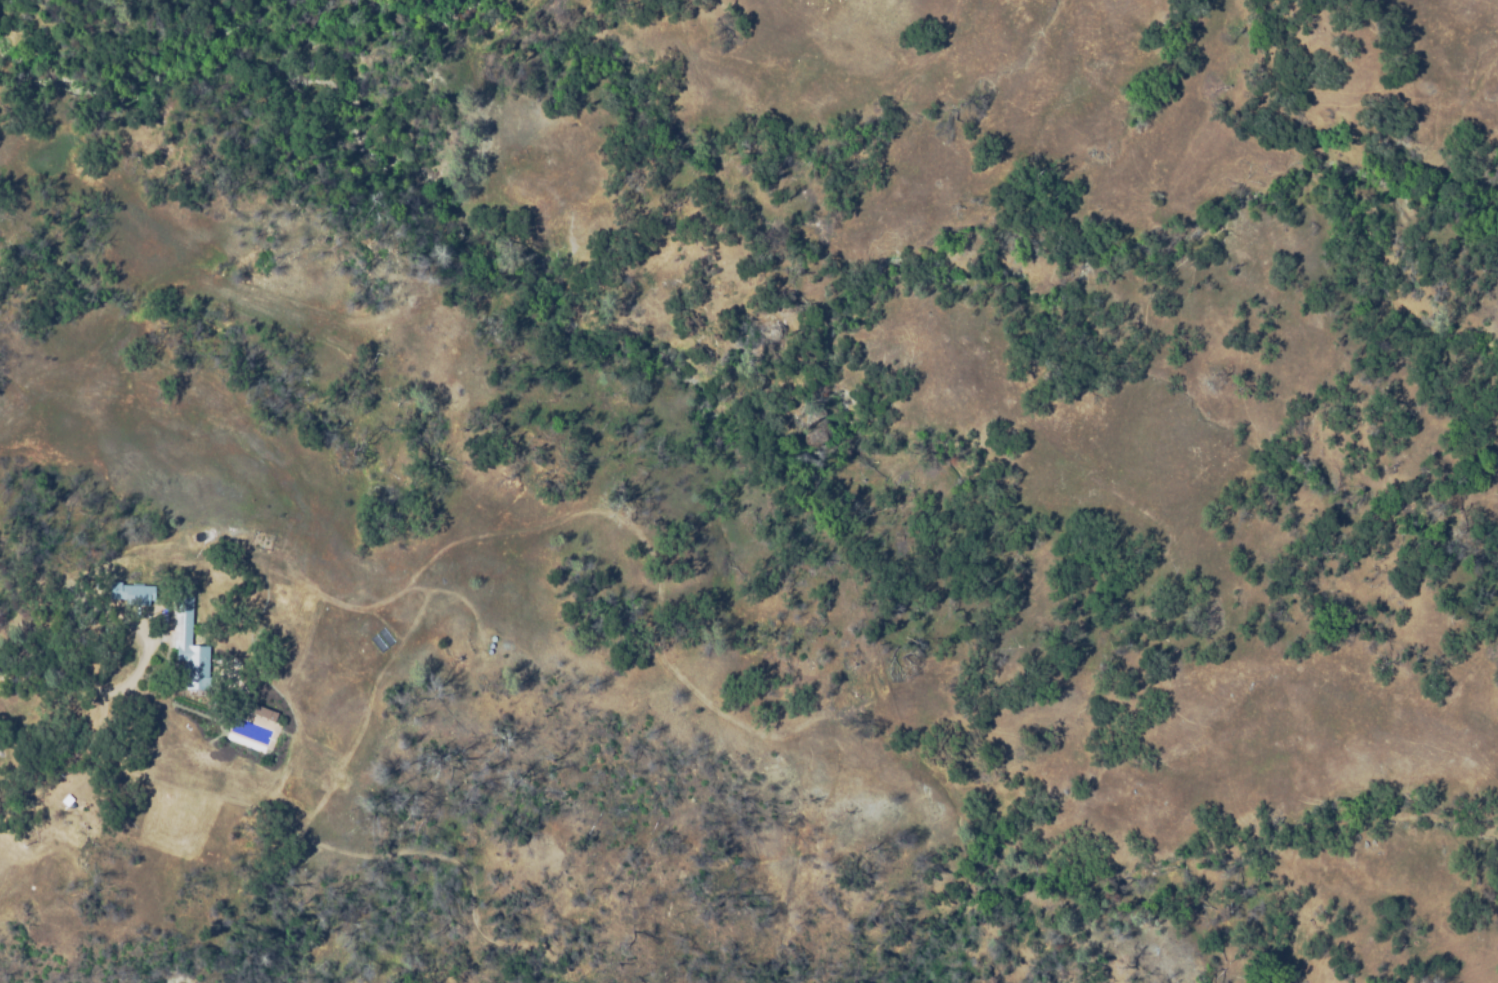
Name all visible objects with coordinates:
building: (136, 593)
building: (188, 647)
building: (261, 711)
building: (218, 738)

